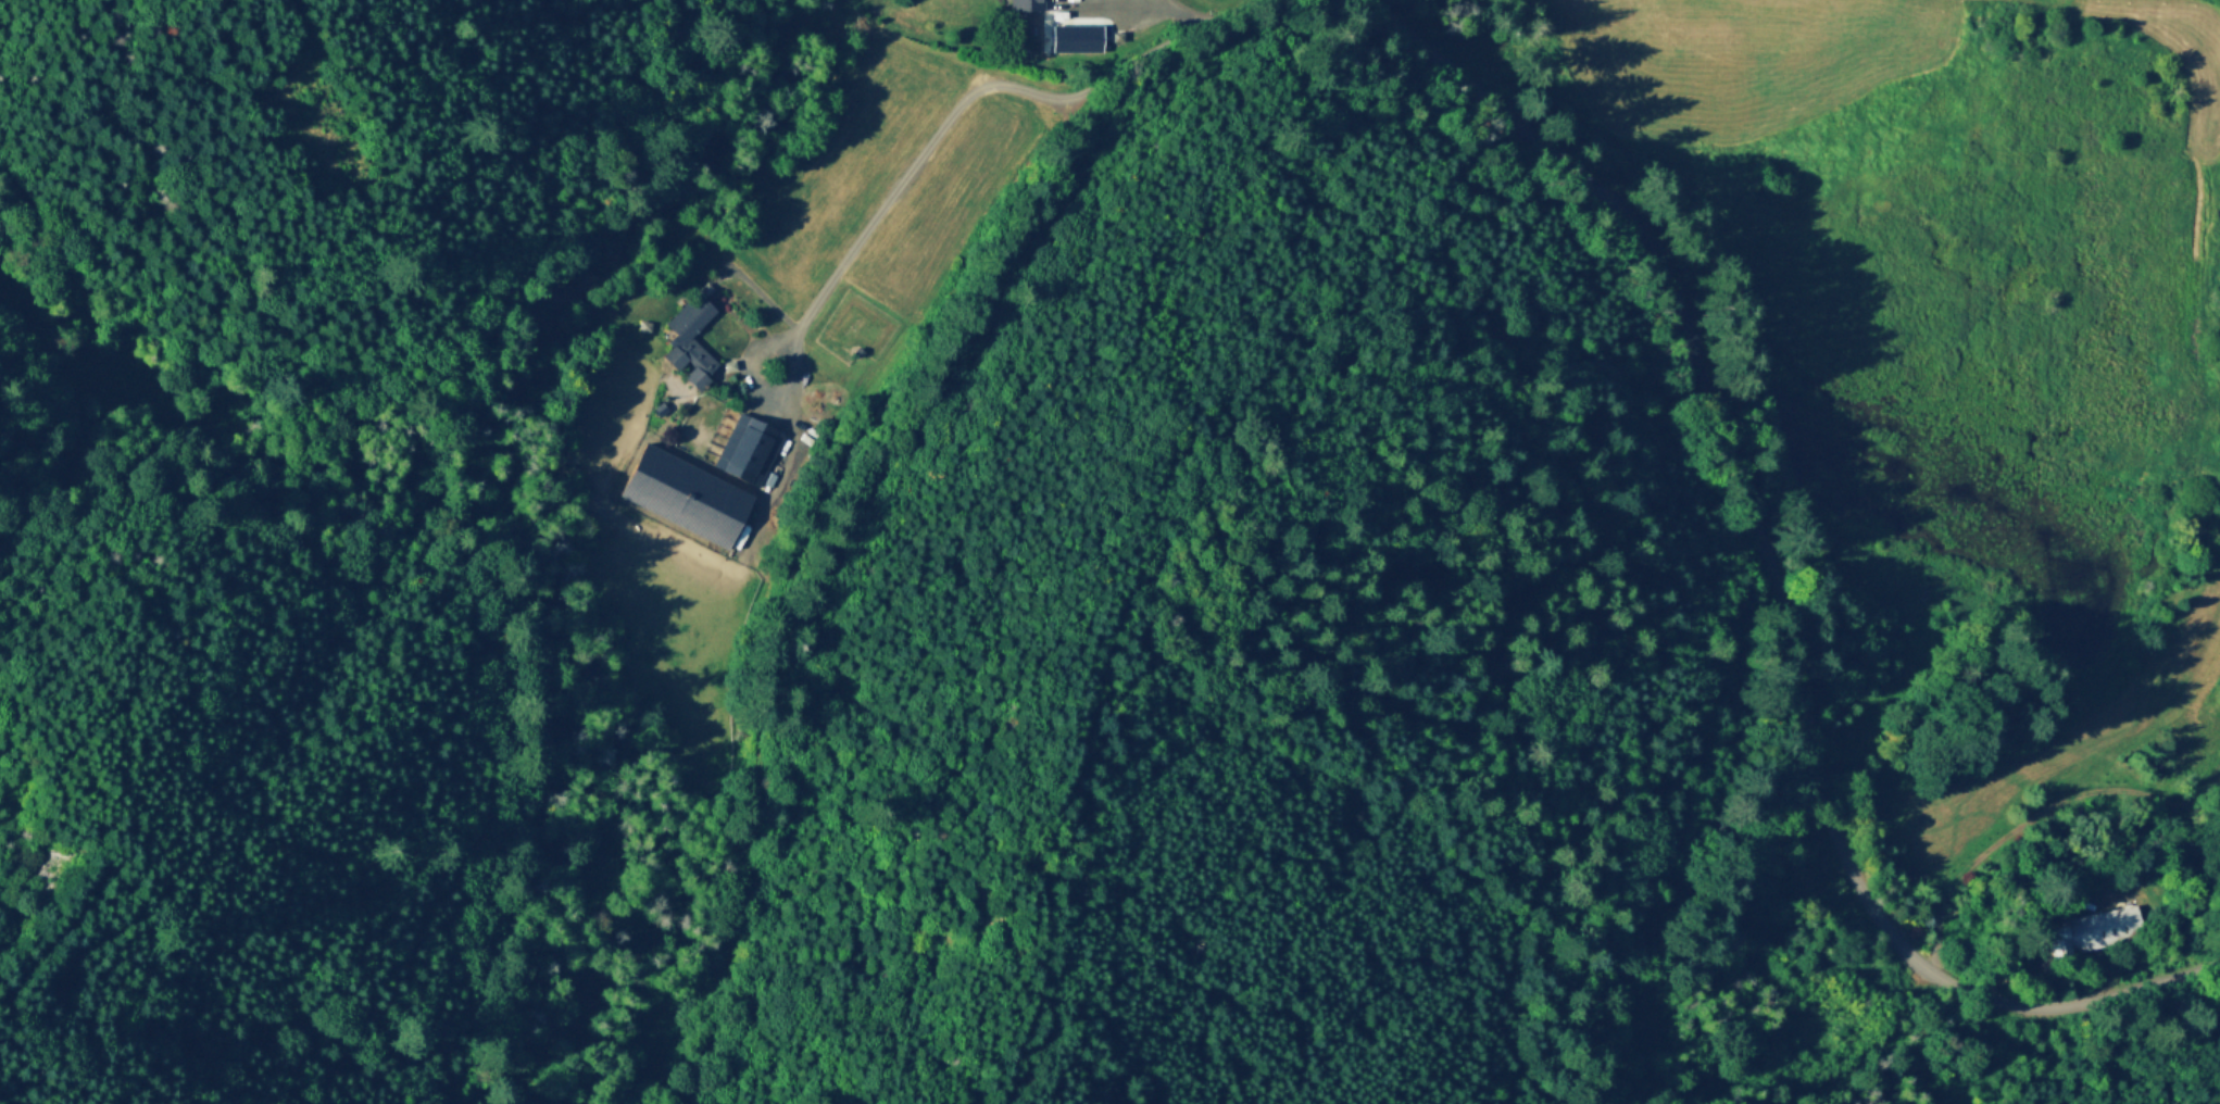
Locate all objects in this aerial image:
building: (1020, 2)
road: (1180, 13)
road: (1126, 21)
building: (1077, 34)
road: (863, 228)
building: (687, 357)
building: (655, 405)
building: (744, 444)
road: (839, 474)
building: (680, 491)
road: (1772, 582)
road: (2142, 711)
road: (2037, 810)
road: (73, 879)
building: (2089, 928)
road: (1992, 1054)

